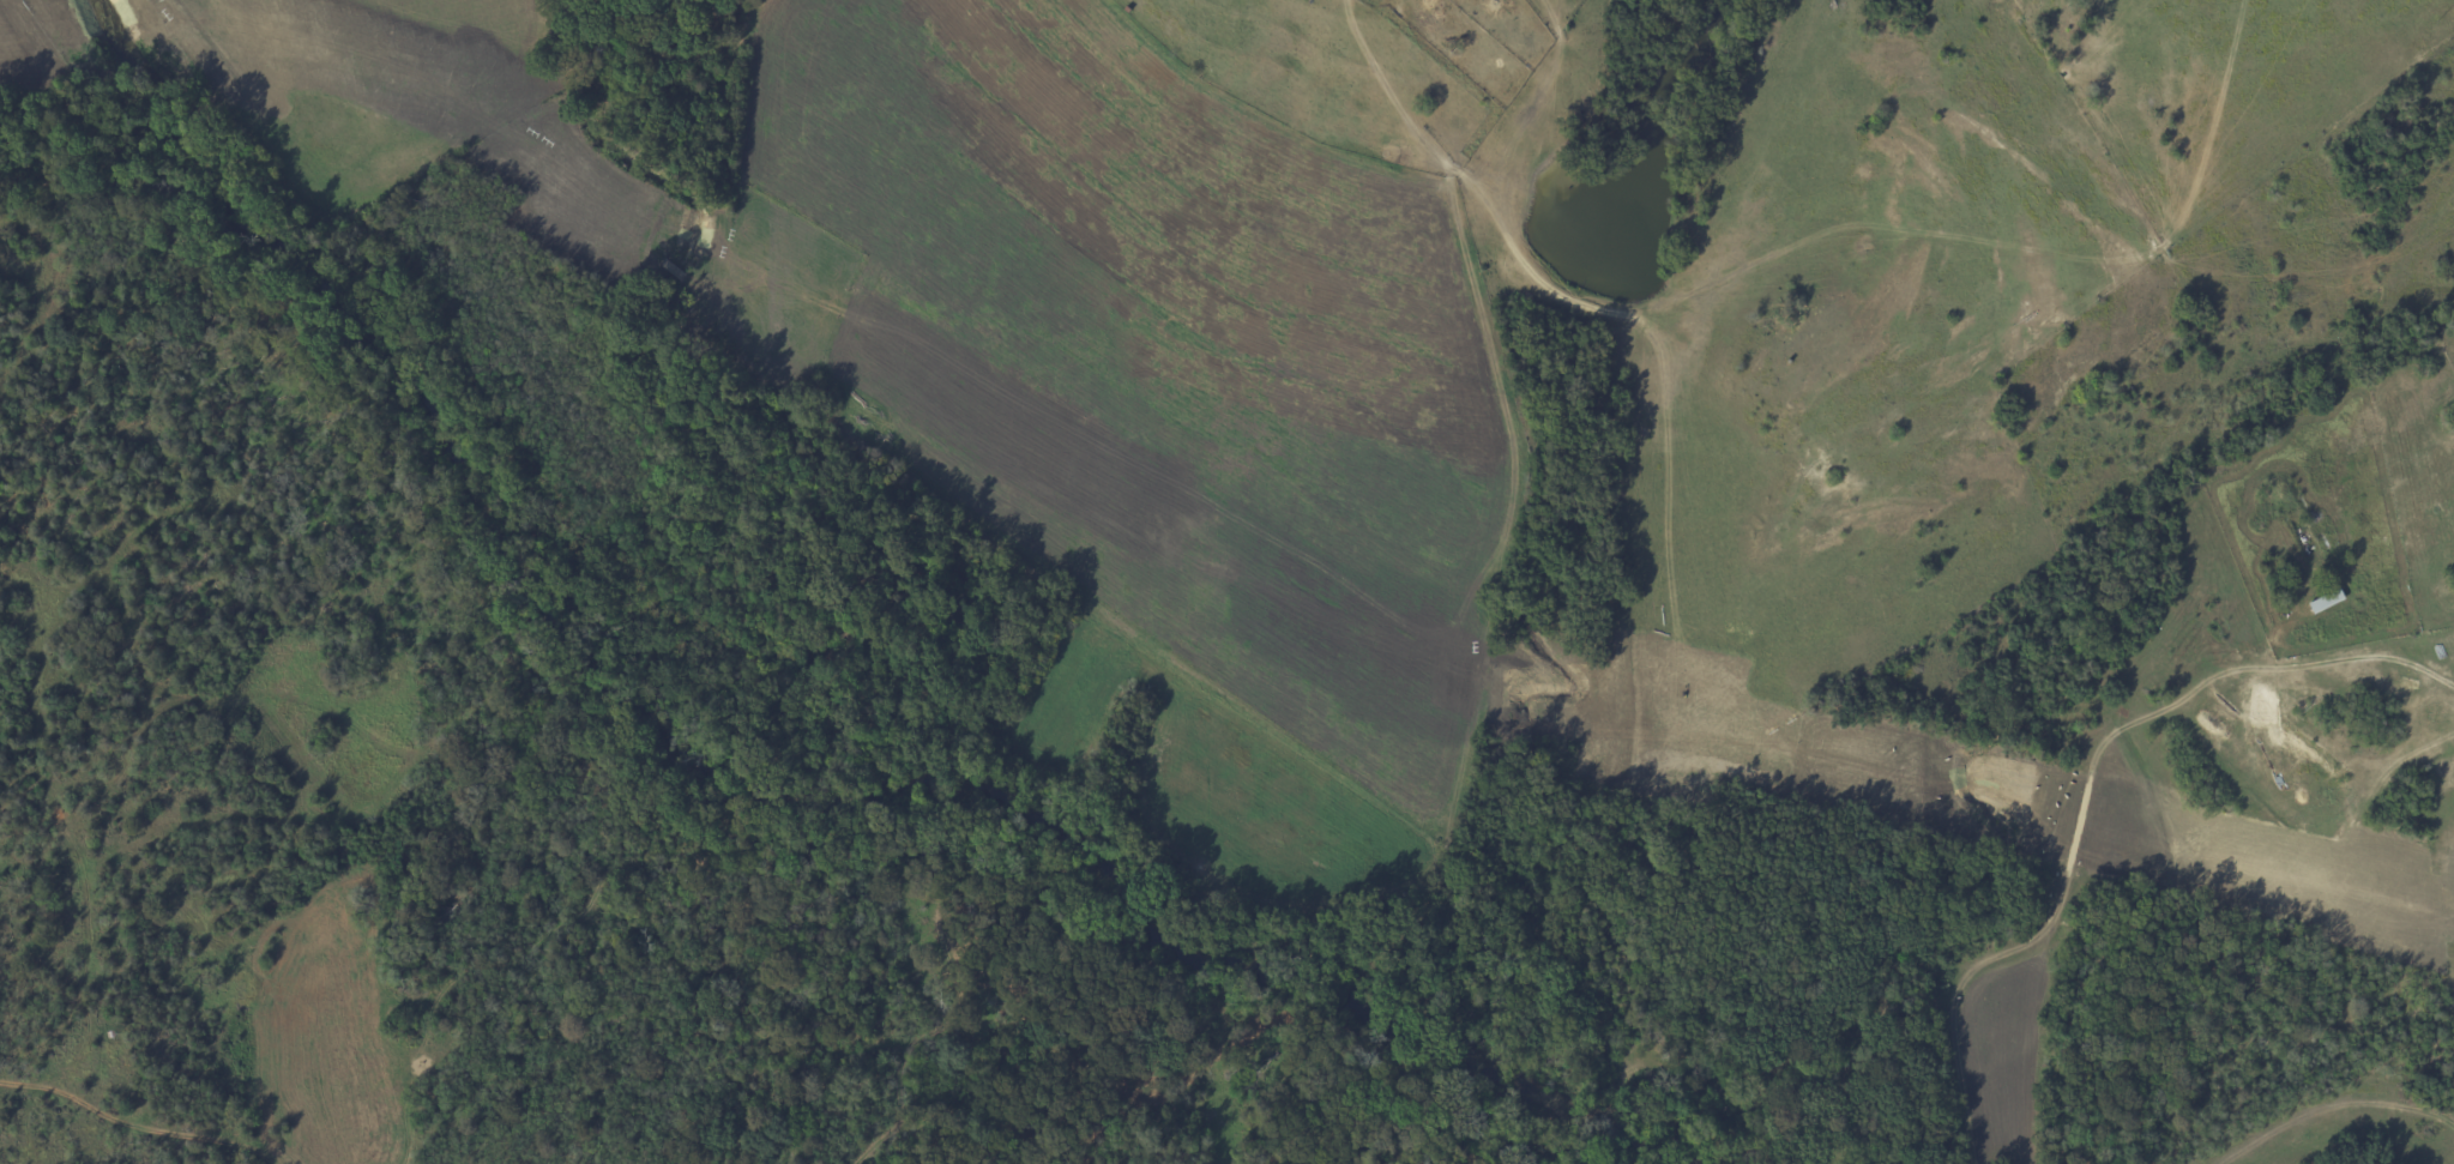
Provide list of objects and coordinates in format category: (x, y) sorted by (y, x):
building: (2328, 601)
road: (2165, 834)

